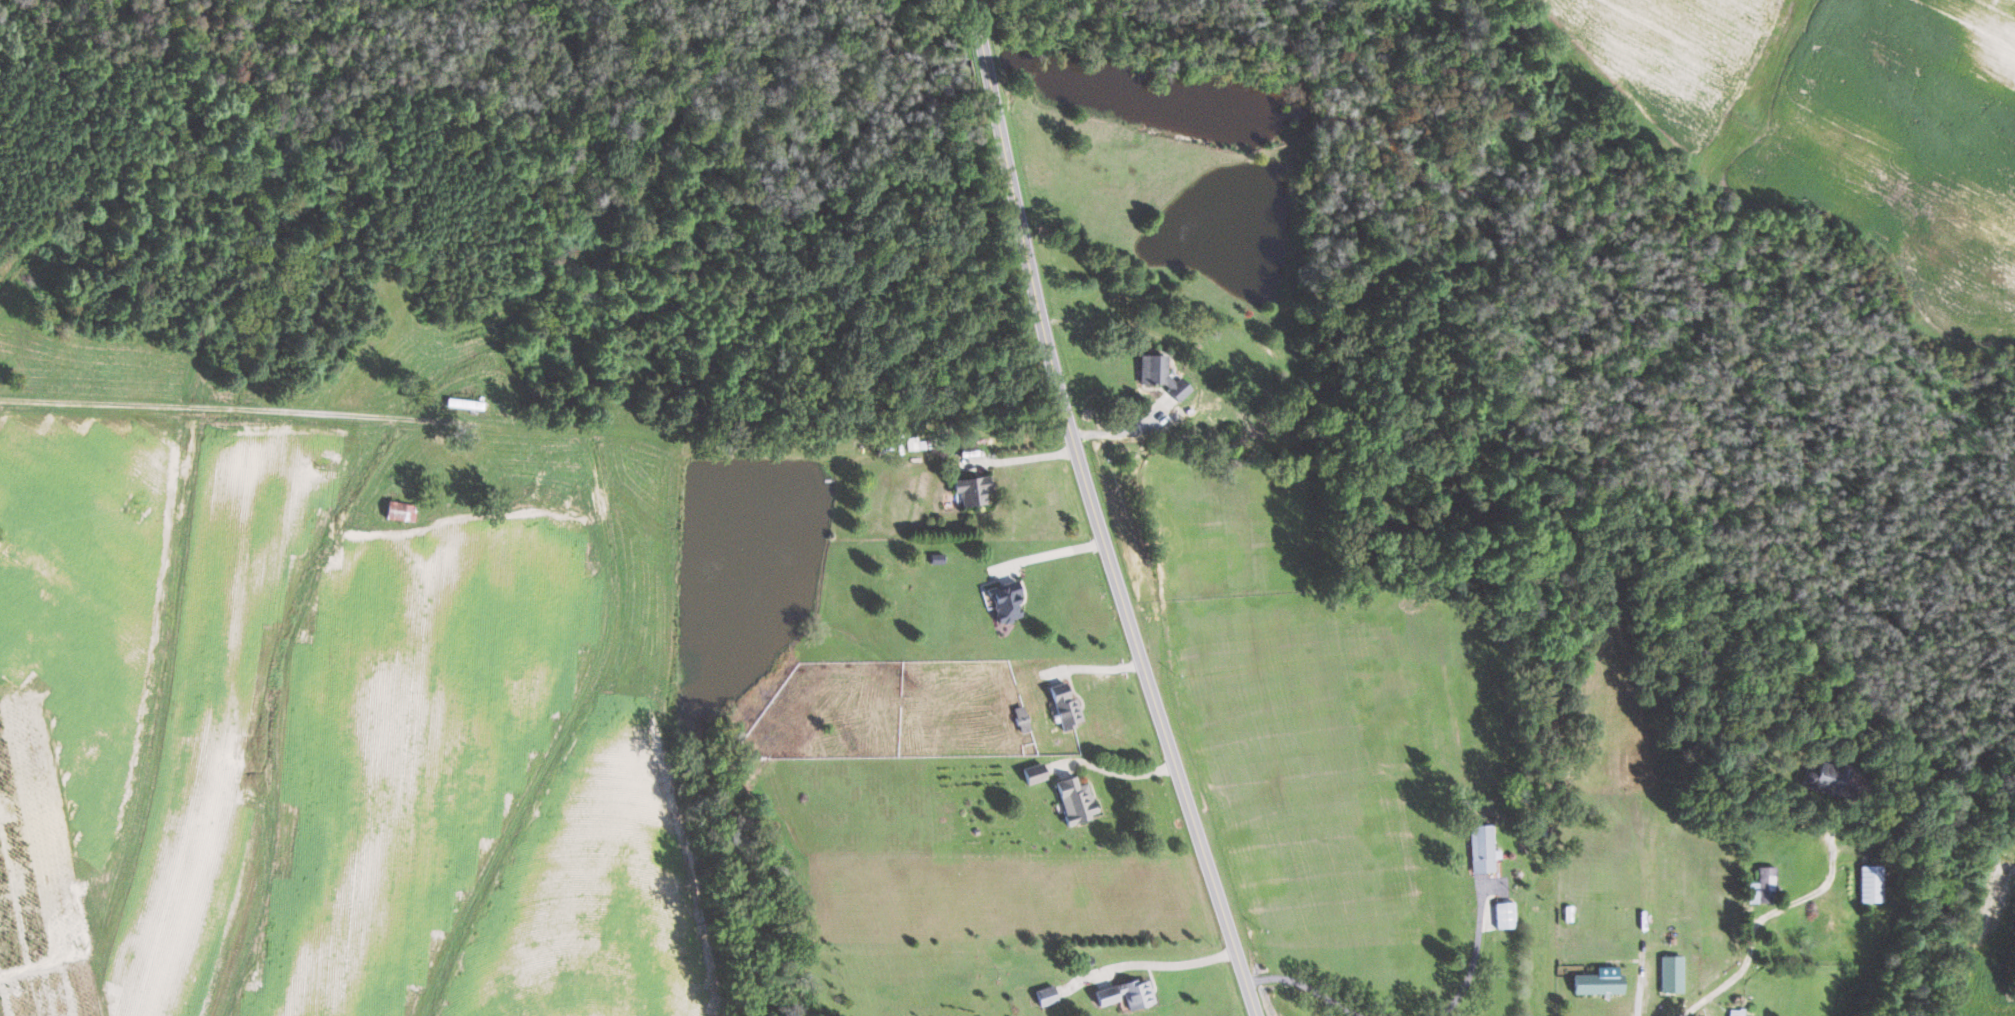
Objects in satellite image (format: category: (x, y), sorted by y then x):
road: (976, 22)
road: (986, 69)
river: (1333, 118)
building: (1161, 374)
road: (1120, 419)
road: (440, 423)
road: (1026, 456)
building: (972, 488)
building: (400, 510)
road: (1054, 548)
road: (1113, 557)
building: (1005, 601)
road: (1097, 666)
building: (1065, 705)
building: (1021, 718)
road: (1120, 766)
building: (1034, 773)
building: (1832, 777)
building: (1075, 799)
building: (1481, 848)
building: (1872, 883)
building: (1764, 886)
road: (1810, 897)
building: (1505, 914)
road: (1476, 957)
road: (1148, 960)
building: (1672, 974)
building: (1598, 983)
road: (1643, 983)
road: (1313, 984)
road: (1713, 992)
building: (1126, 994)
building: (1046, 995)
building: (1737, 1012)

